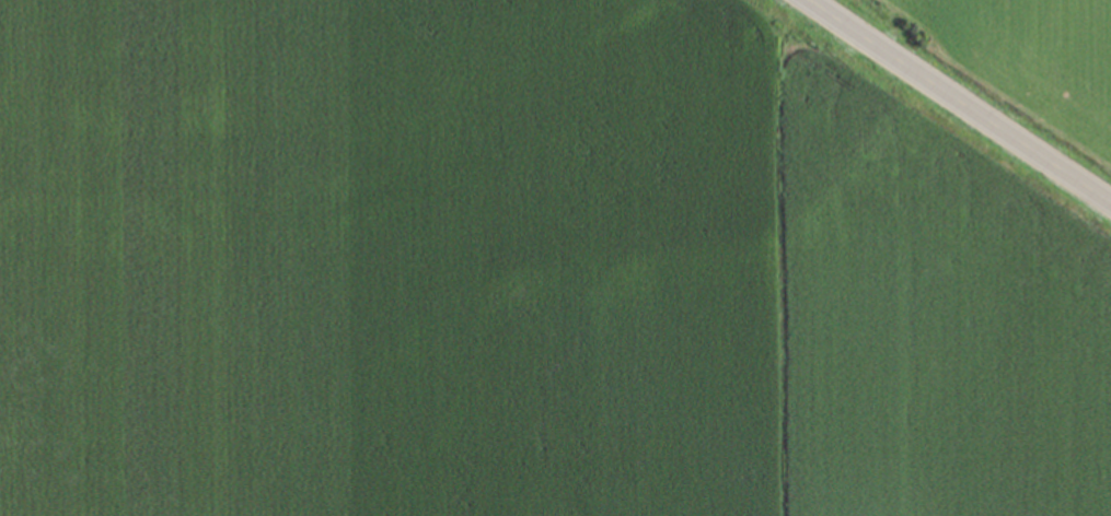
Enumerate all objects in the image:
road: (958, 102)

